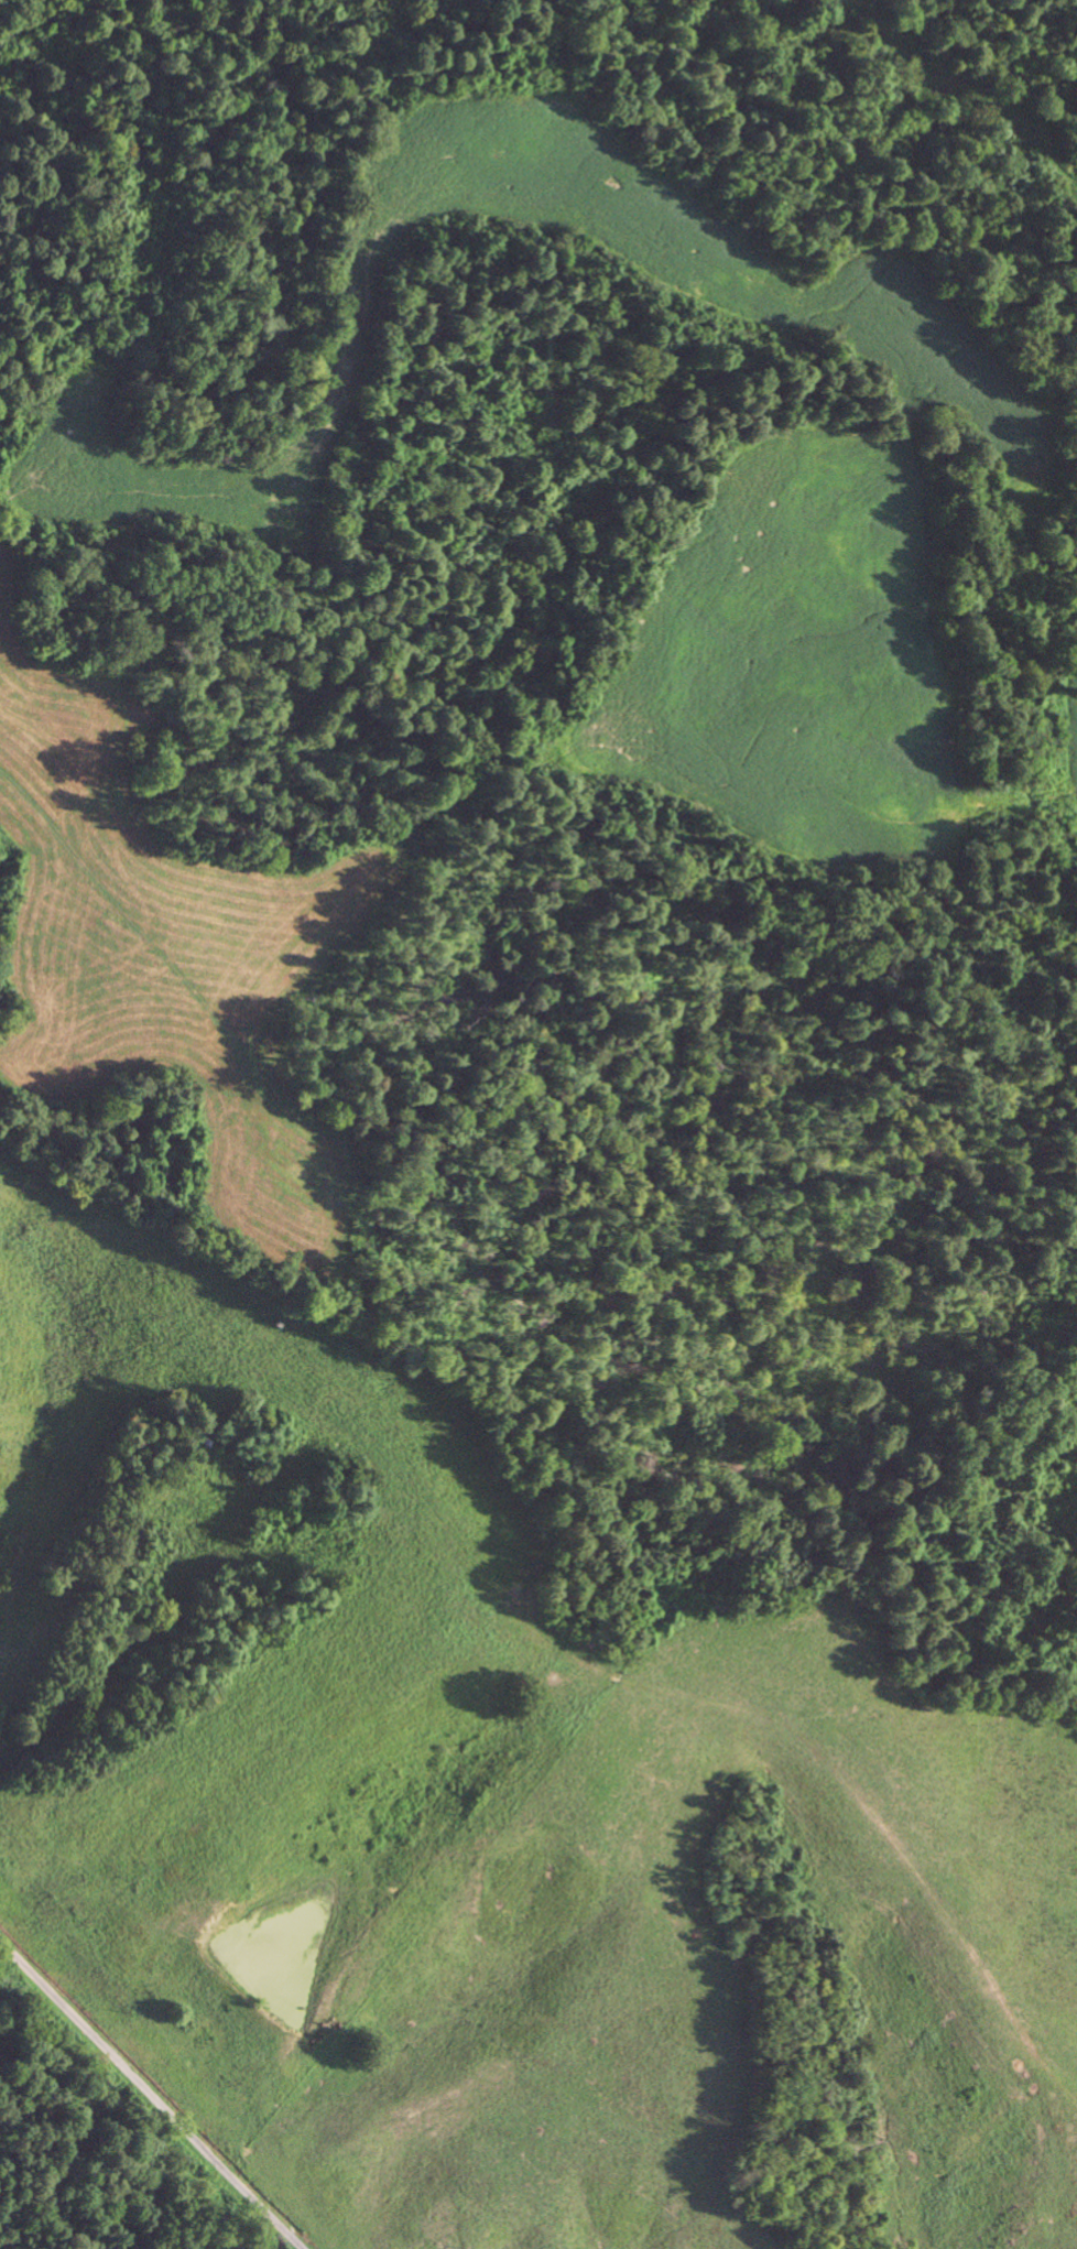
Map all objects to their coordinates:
road: (155, 2093)

